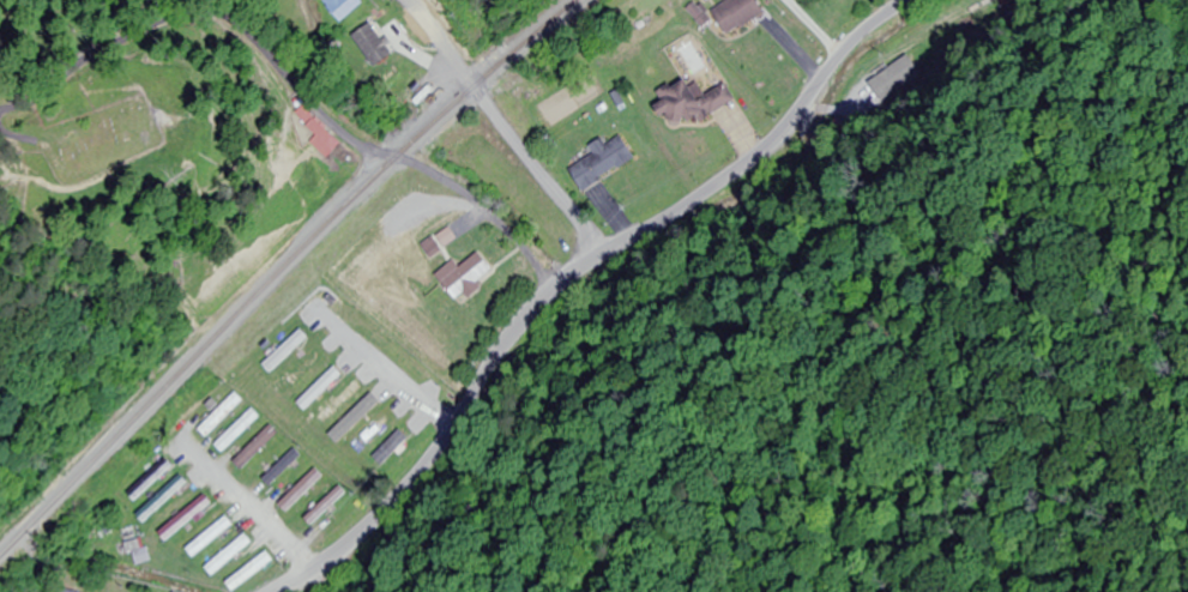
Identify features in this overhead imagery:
building: (343, 7)
building: (740, 14)
building: (893, 85)
building: (692, 102)
road: (503, 126)
building: (319, 133)
building: (604, 161)
building: (517, 195)
building: (441, 242)
railway: (282, 271)
building: (465, 274)
road: (568, 277)
building: (285, 352)
building: (301, 373)
building: (321, 388)
building: (340, 403)
building: (222, 415)
building: (357, 417)
building: (237, 430)
building: (375, 430)
building: (393, 446)
building: (258, 447)
building: (283, 467)
building: (151, 479)
building: (302, 491)
building: (164, 499)
building: (326, 506)
building: (186, 518)
building: (211, 537)
building: (138, 552)
building: (230, 556)
building: (252, 573)
building: (65, 591)

